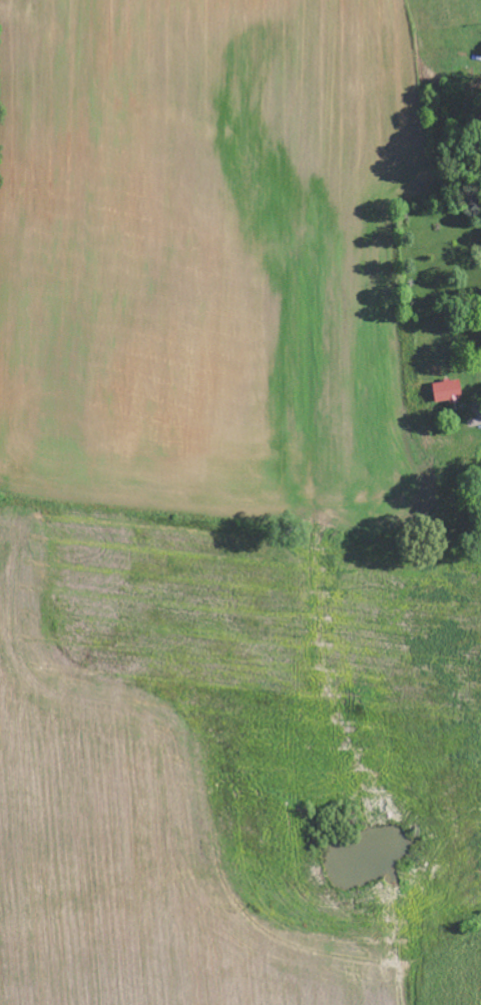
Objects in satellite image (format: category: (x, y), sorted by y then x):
building: (447, 392)
road: (480, 425)

